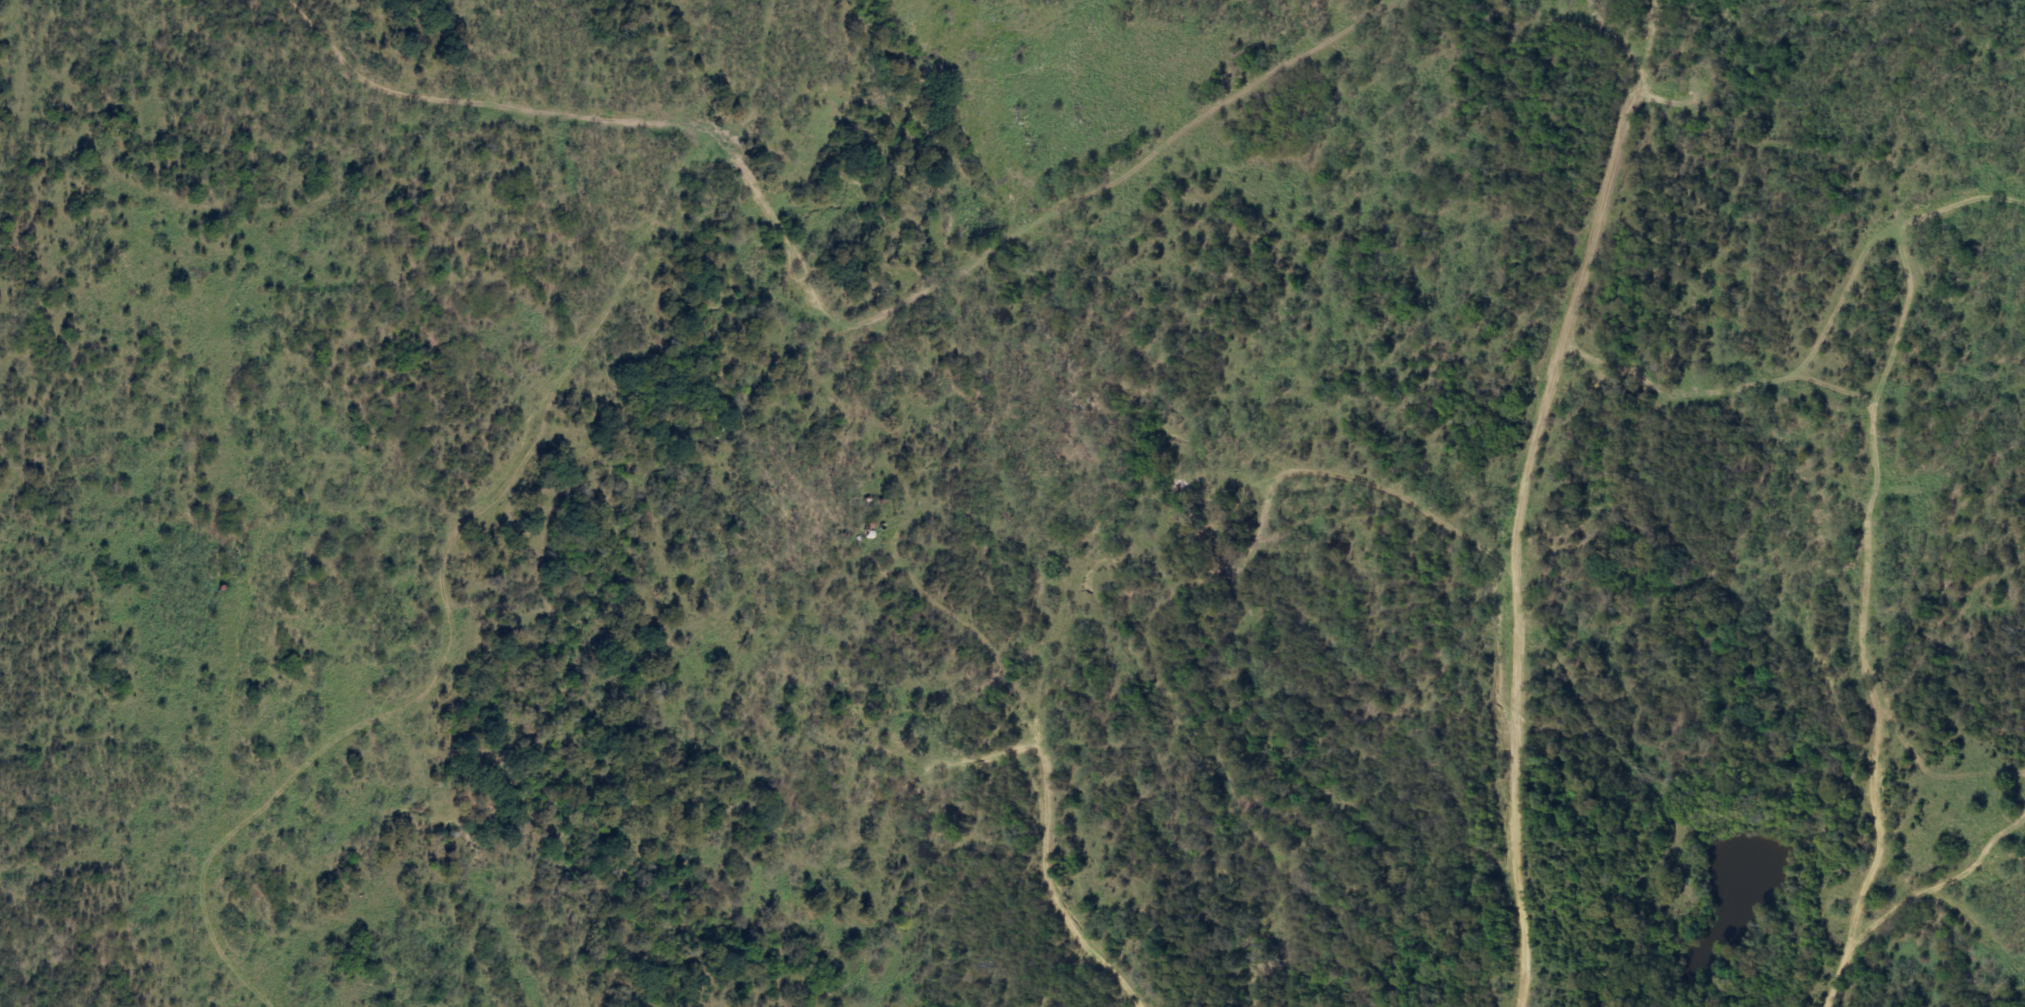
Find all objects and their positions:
road: (1522, 495)
road: (1404, 499)
road: (1870, 551)
road: (913, 583)
road: (980, 761)
road: (211, 813)
road: (1969, 869)
road: (1935, 895)
road: (2021, 959)

